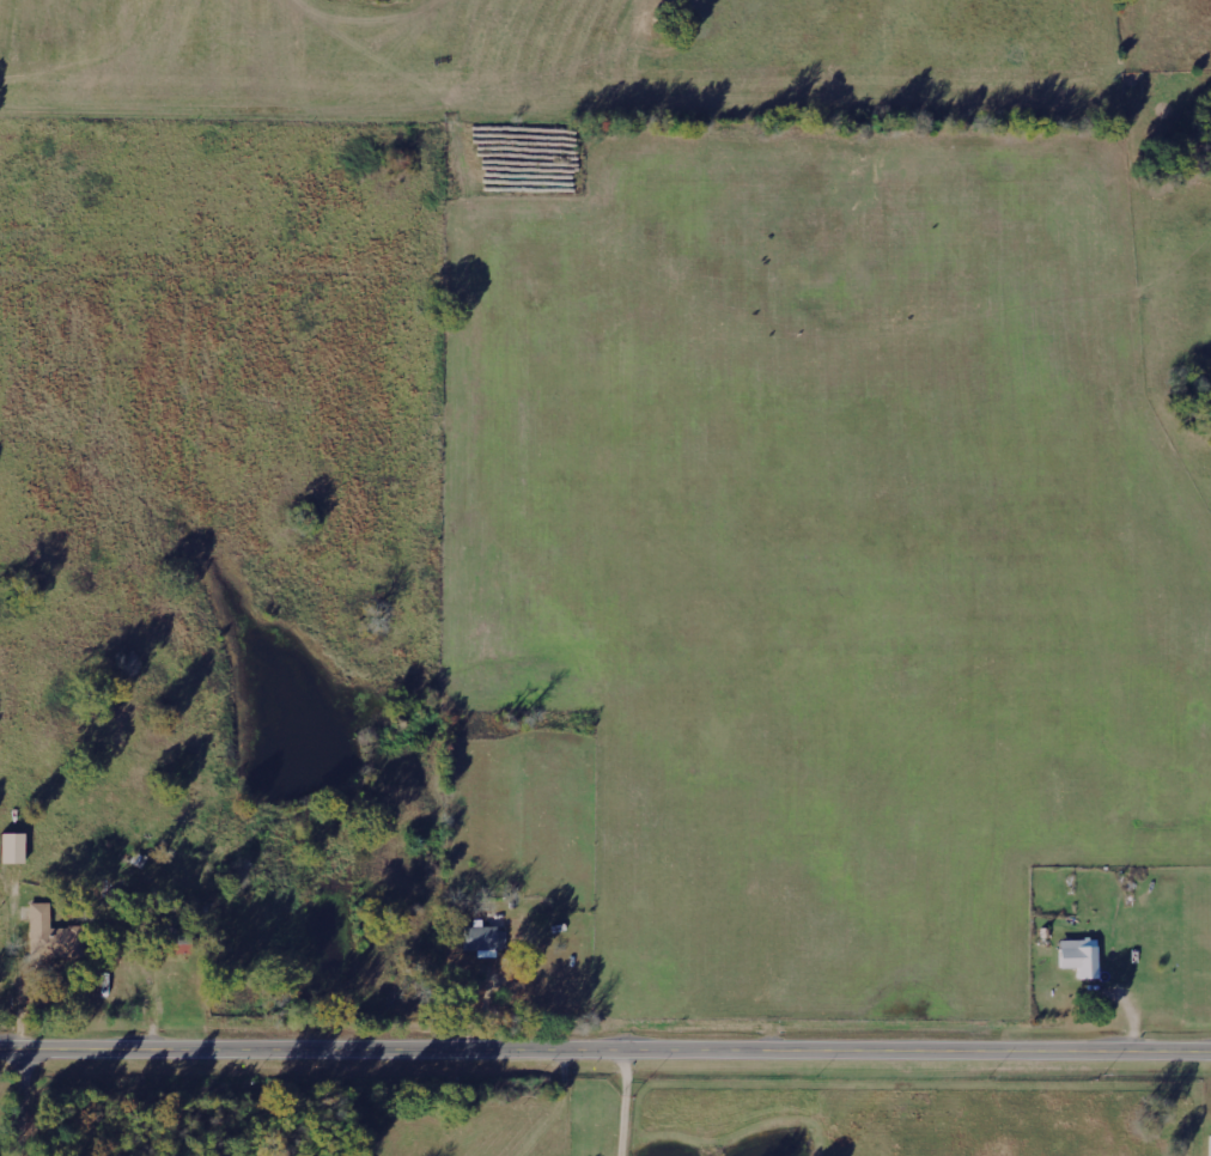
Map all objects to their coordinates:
building: (54, 935)
building: (486, 939)
building: (1081, 956)
road: (605, 1049)
road: (32, 1103)

